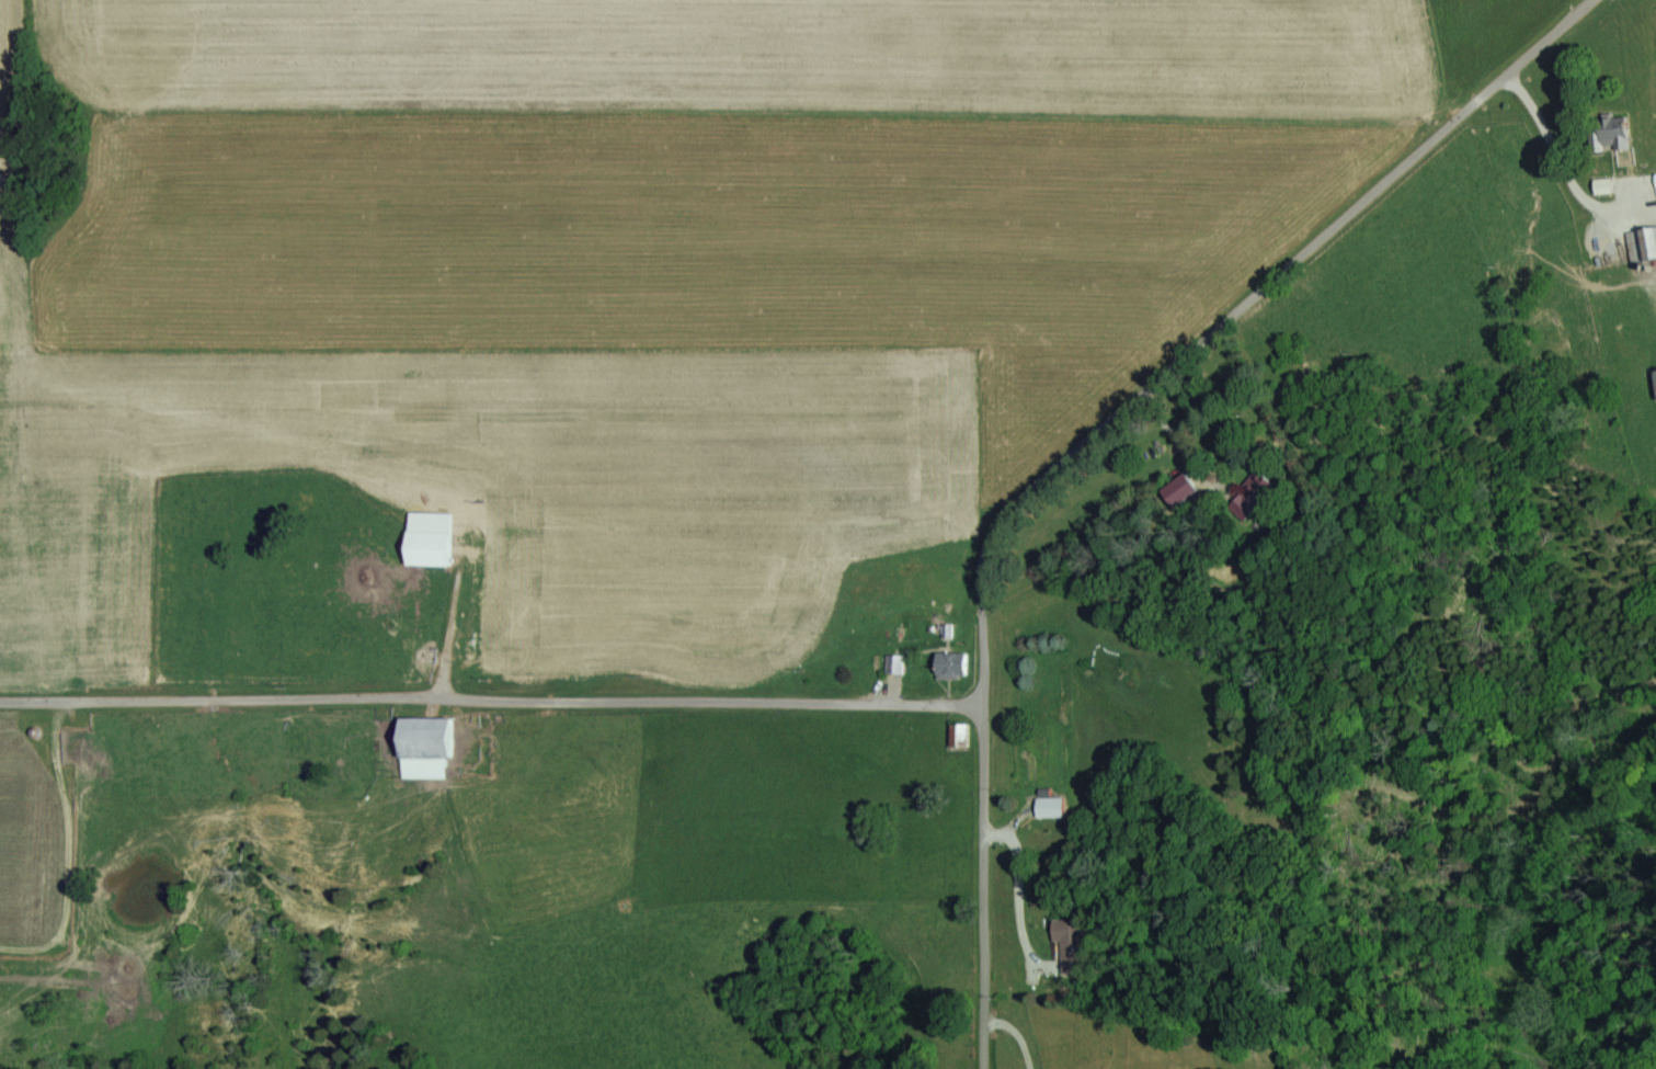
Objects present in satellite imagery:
building: (1610, 134)
road: (1552, 151)
building: (1654, 183)
building: (1600, 187)
building: (1641, 246)
road: (1225, 325)
building: (1653, 384)
crop: (614, 448)
building: (1250, 500)
building: (425, 550)
building: (892, 666)
building: (947, 667)
road: (490, 704)
building: (423, 749)
building: (1047, 808)
road: (1017, 896)
road: (982, 898)
building: (1065, 939)

